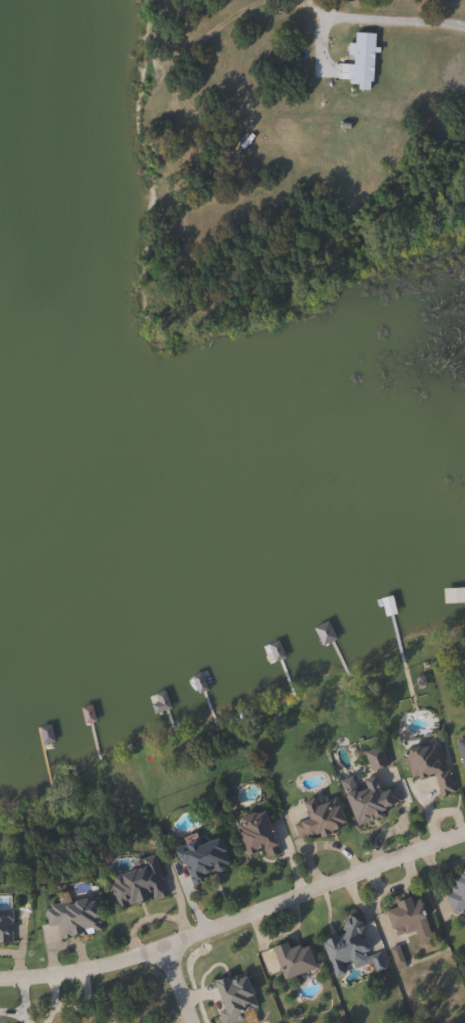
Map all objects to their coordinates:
road: (384, 20)
building: (357, 61)
building: (451, 596)
building: (461, 755)
building: (371, 757)
building: (424, 760)
building: (367, 800)
building: (315, 817)
building: (253, 833)
building: (197, 857)
building: (135, 883)
building: (455, 890)
road: (236, 906)
building: (403, 915)
building: (70, 916)
building: (4, 926)
building: (347, 948)
building: (395, 957)
building: (290, 959)
road: (187, 978)
building: (231, 996)

